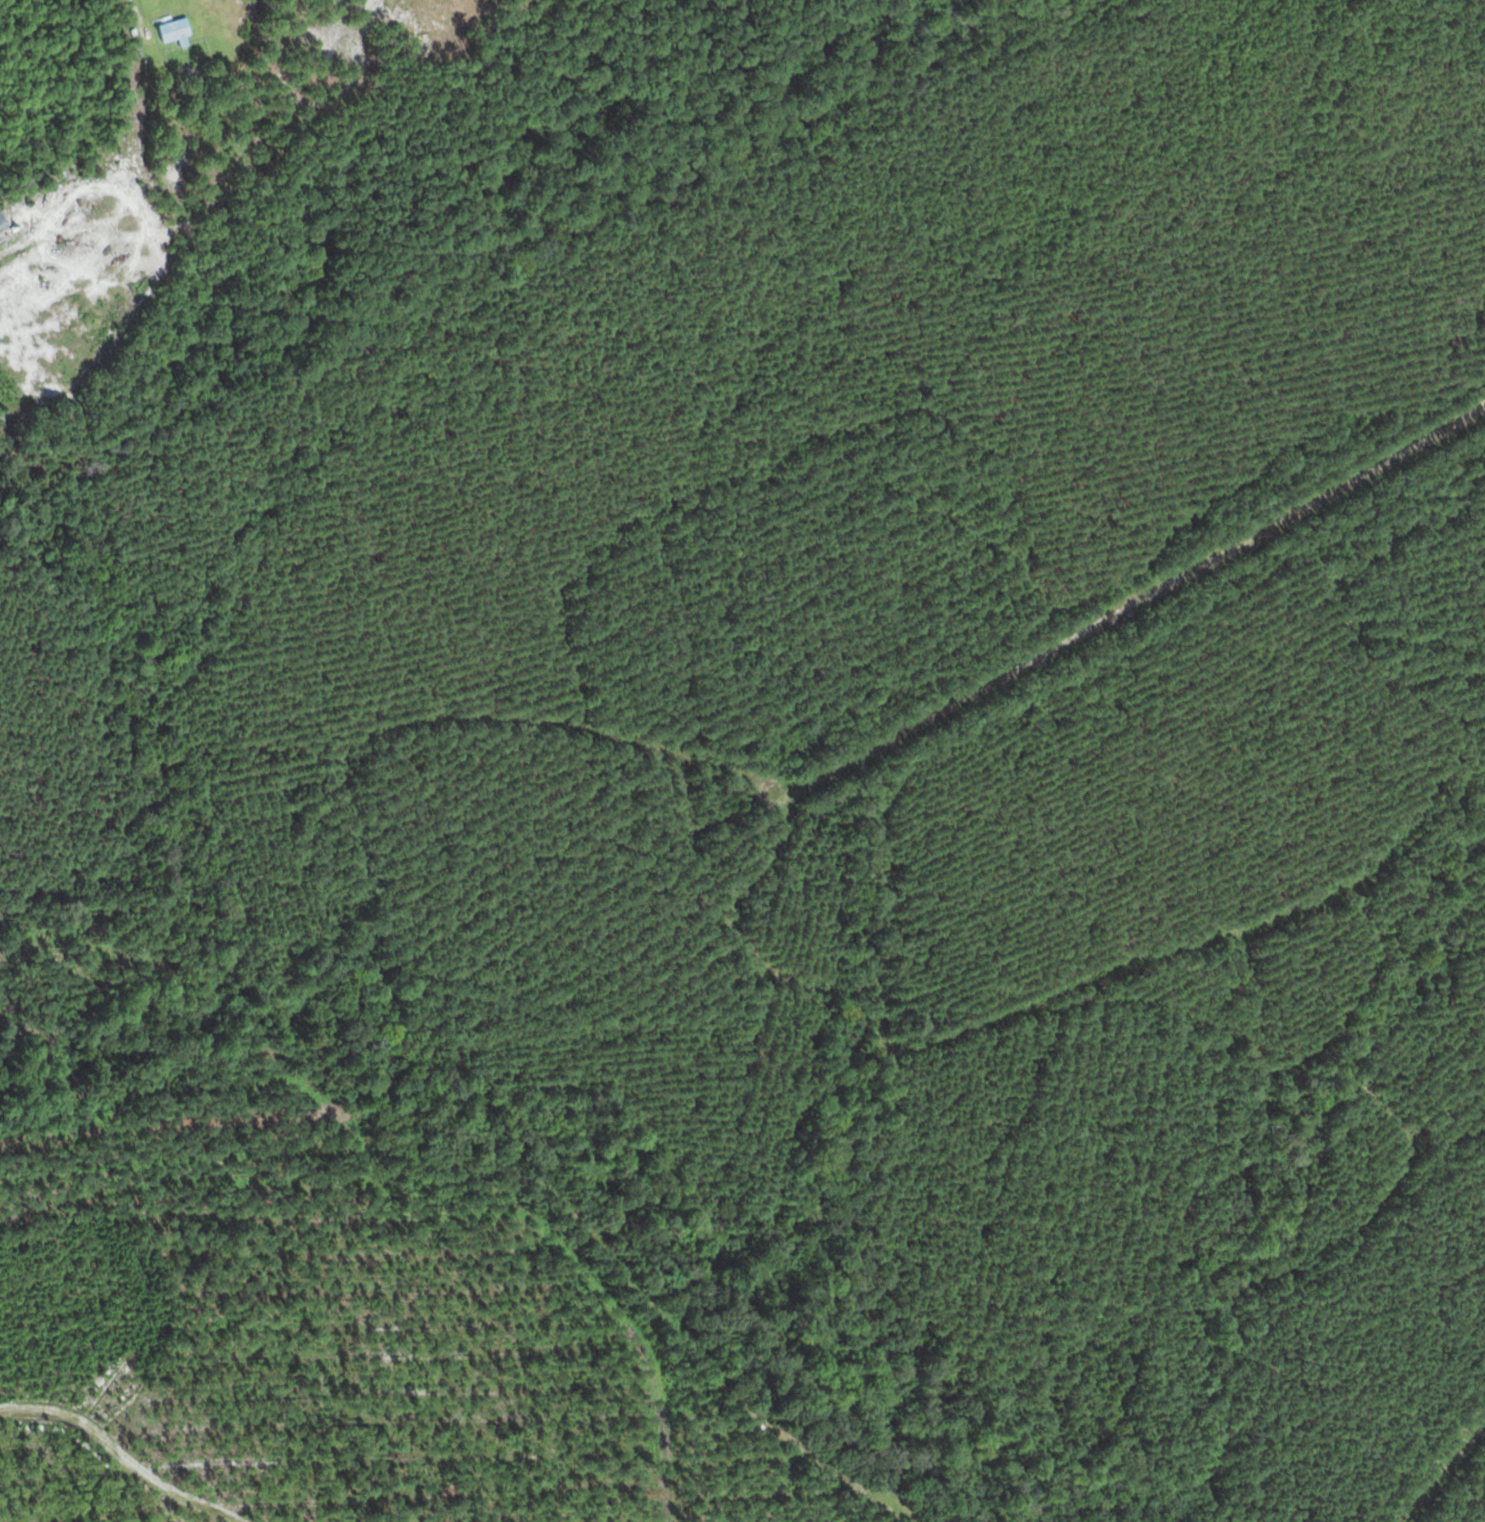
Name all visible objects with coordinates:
building: (171, 28)
building: (1, 223)

